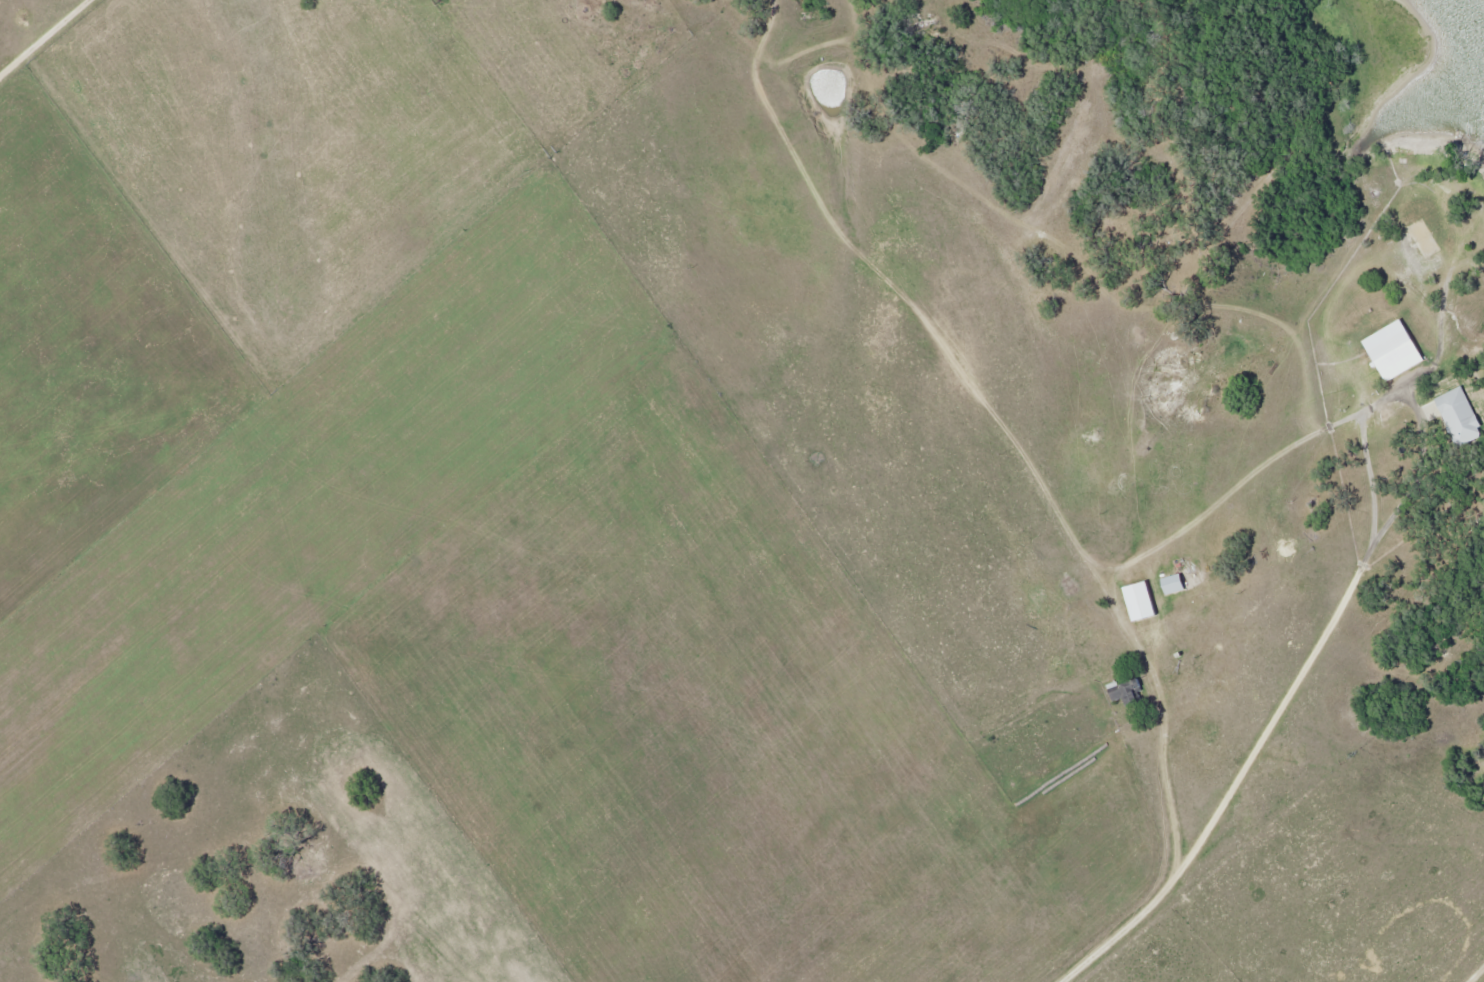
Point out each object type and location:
road: (44, 37)
building: (1397, 349)
building: (1461, 416)
road: (1127, 567)
building: (1174, 583)
building: (1123, 688)
road: (1253, 755)
road: (1478, 976)

